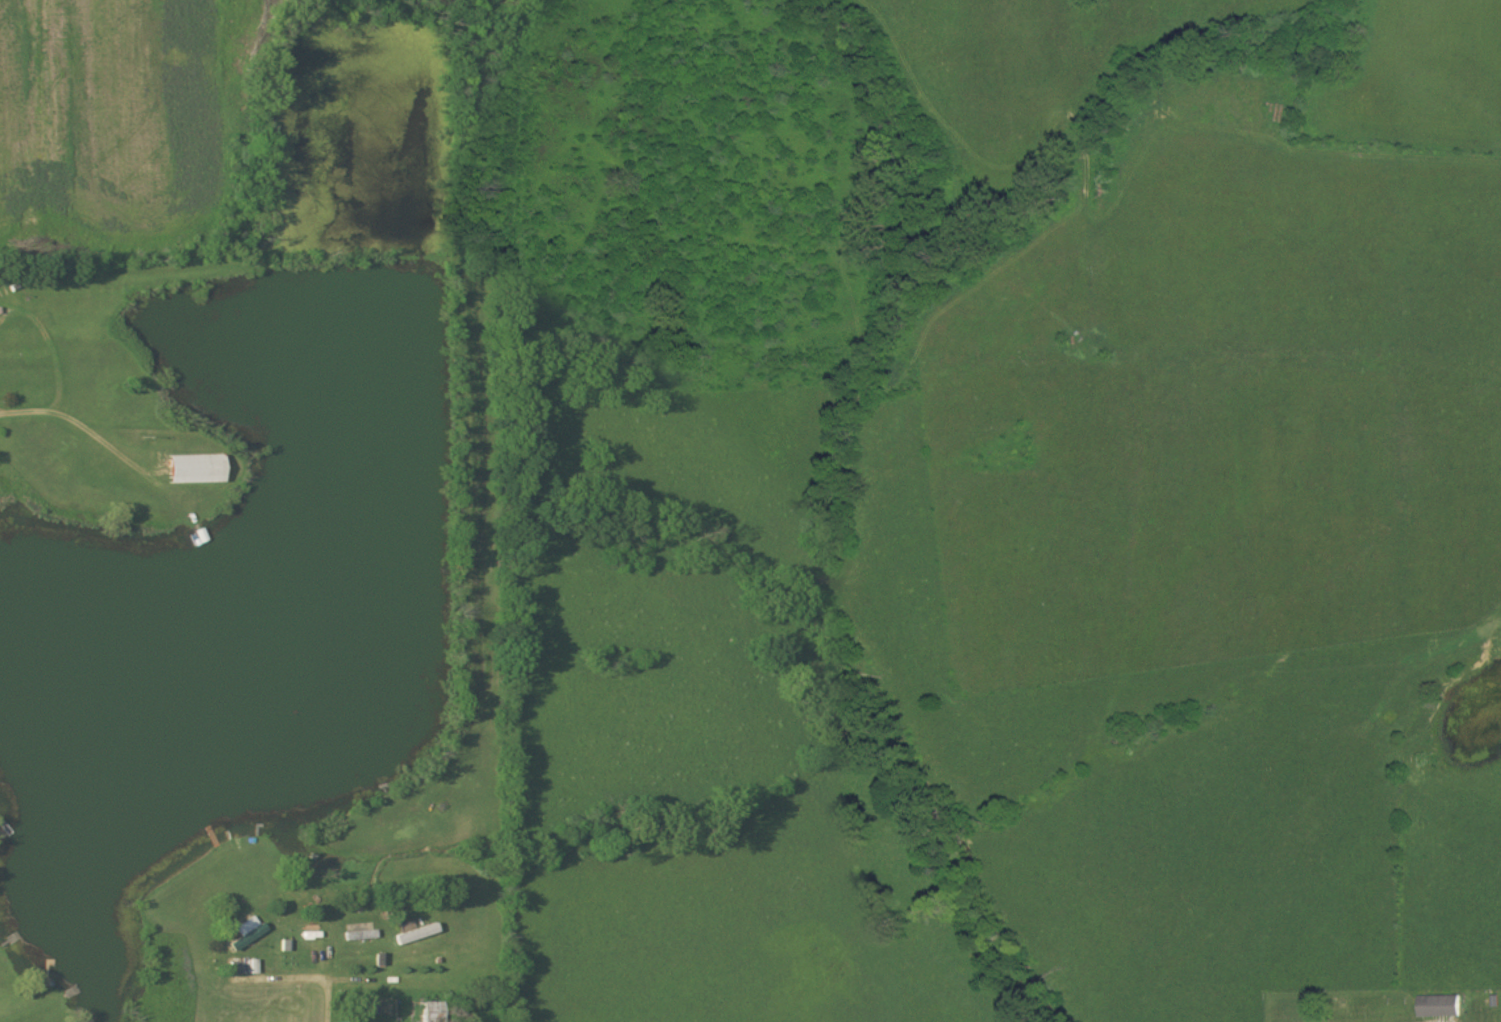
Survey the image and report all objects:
building: (195, 469)
building: (246, 933)
building: (417, 935)
building: (361, 936)
building: (1441, 1007)
building: (430, 1012)

